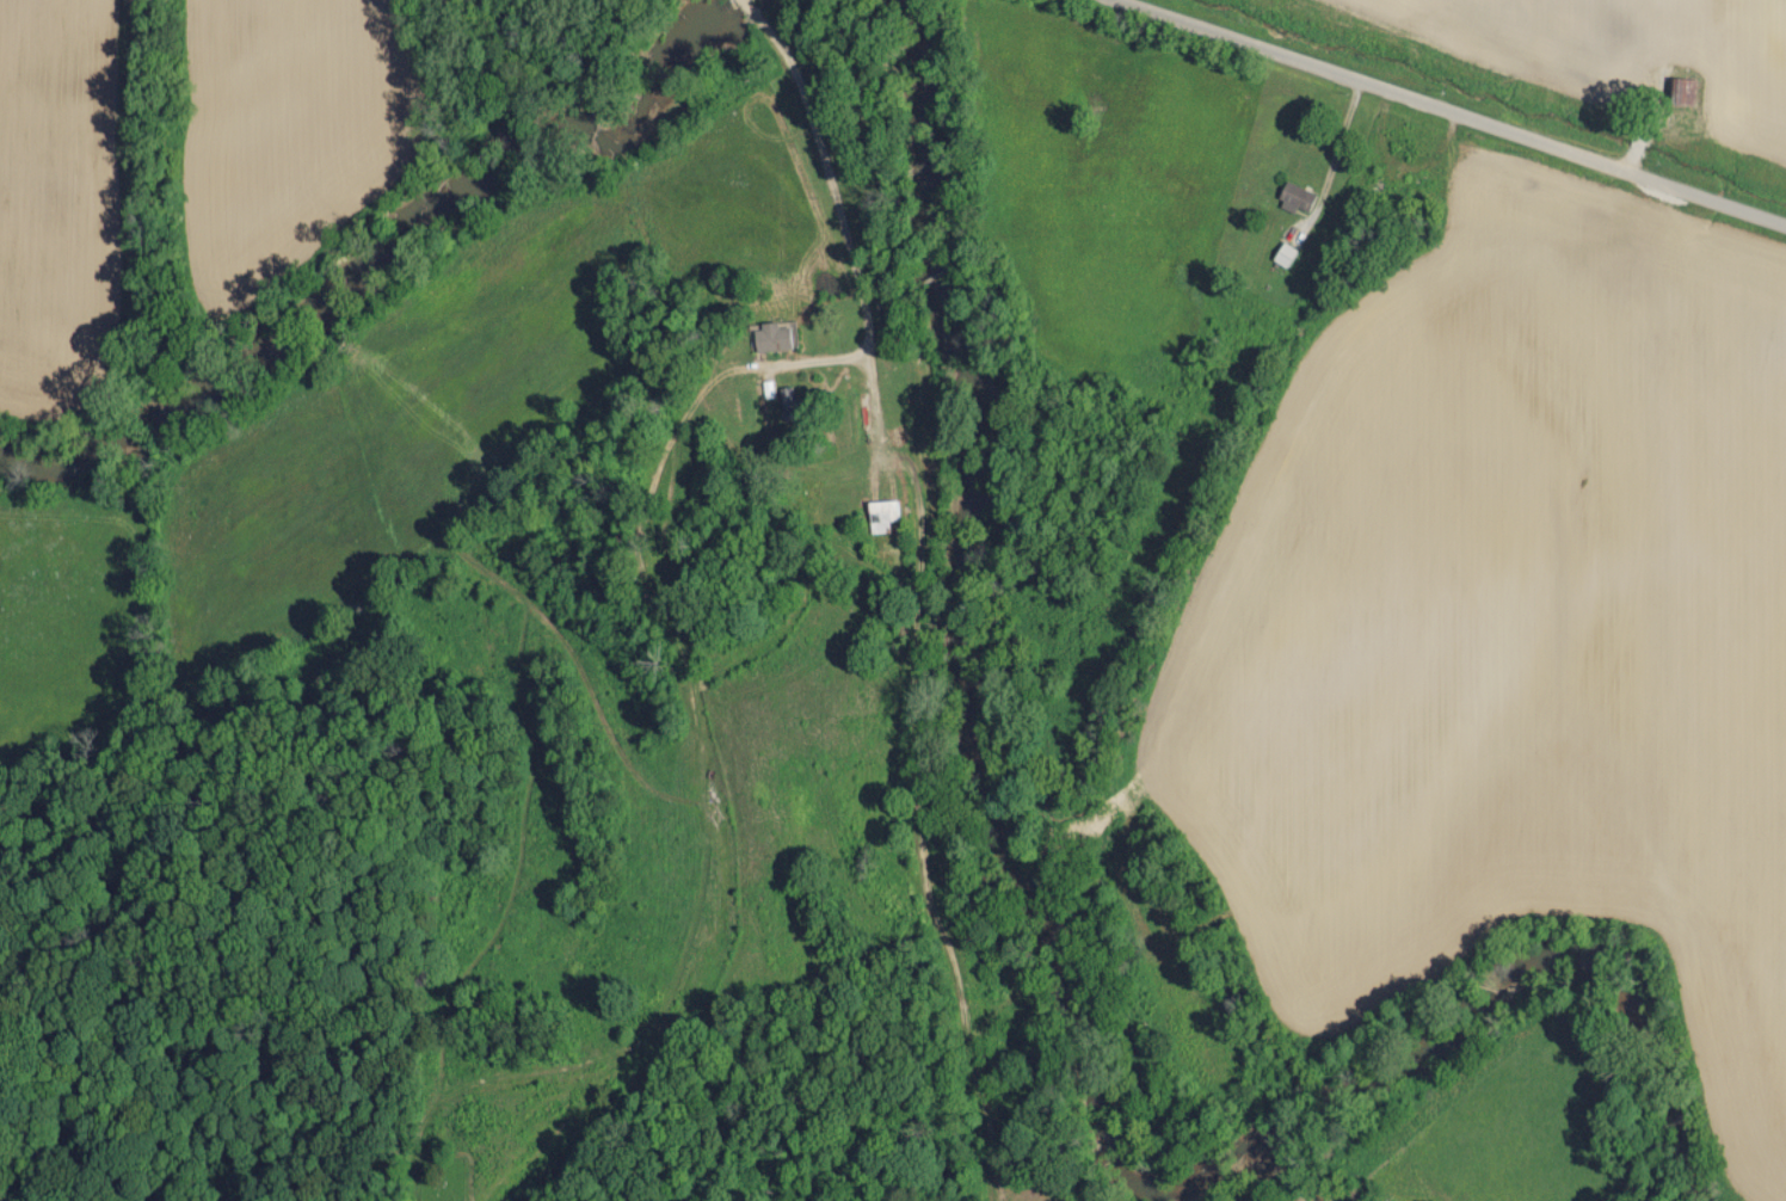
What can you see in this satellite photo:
building: (1682, 91)
road: (1454, 112)
building: (1295, 197)
river: (388, 250)
building: (1285, 254)
building: (775, 337)
building: (883, 515)
river: (1066, 979)

